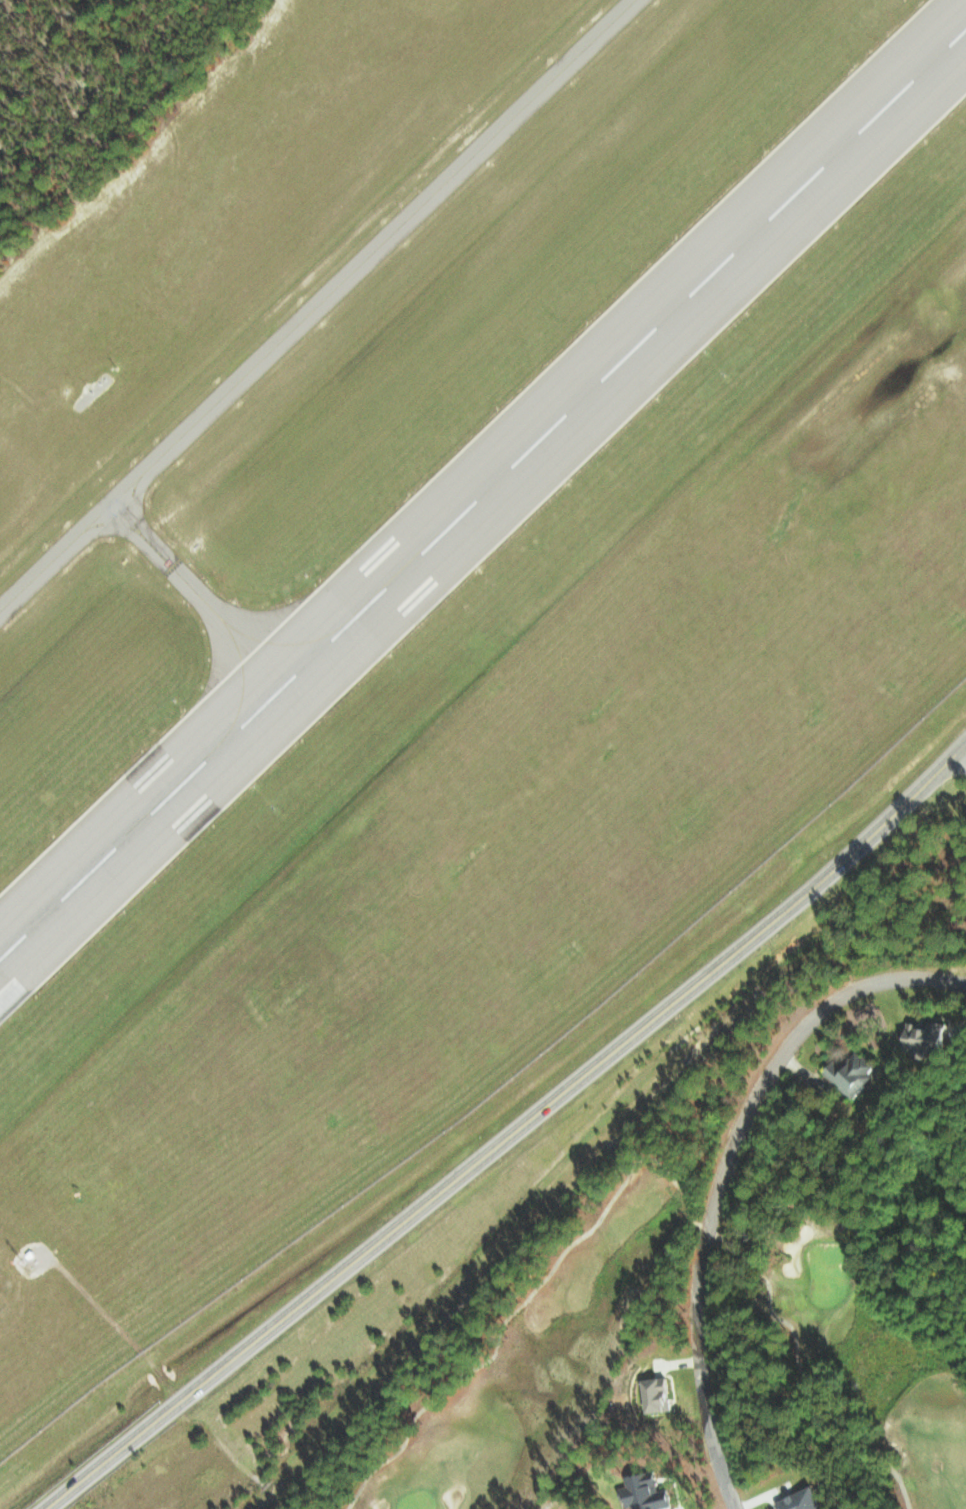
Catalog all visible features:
airport taxiway: (317, 305)
airport runway: (483, 492)
airport taxiway: (131, 503)
airport taxiway: (159, 552)
airport: (440, 607)
airport taxiway: (275, 638)
airport taxiway: (238, 673)
road: (963, 752)
building: (929, 1036)
building: (853, 1071)
road: (504, 1129)
road: (723, 1172)
park: (851, 1325)
building: (662, 1393)
building: (646, 1395)
building: (649, 1492)
building: (805, 1500)

